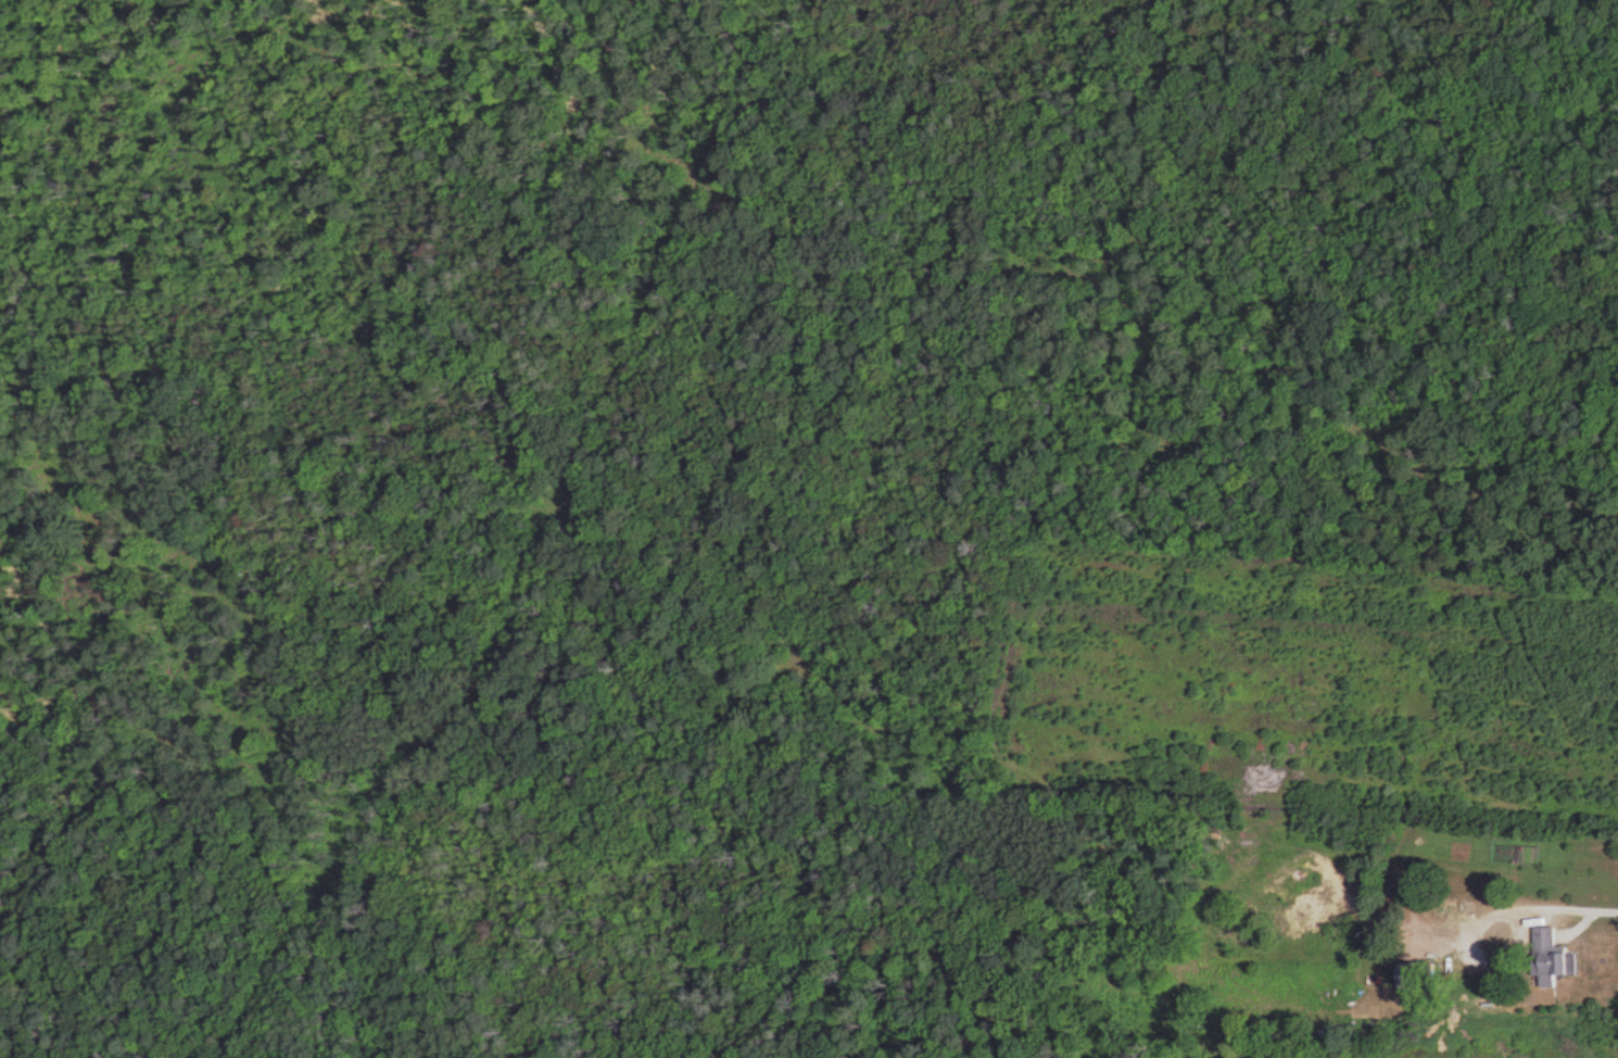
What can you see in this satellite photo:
building: (1462, 906)
road: (1584, 911)
building: (1559, 958)
building: (1423, 962)

